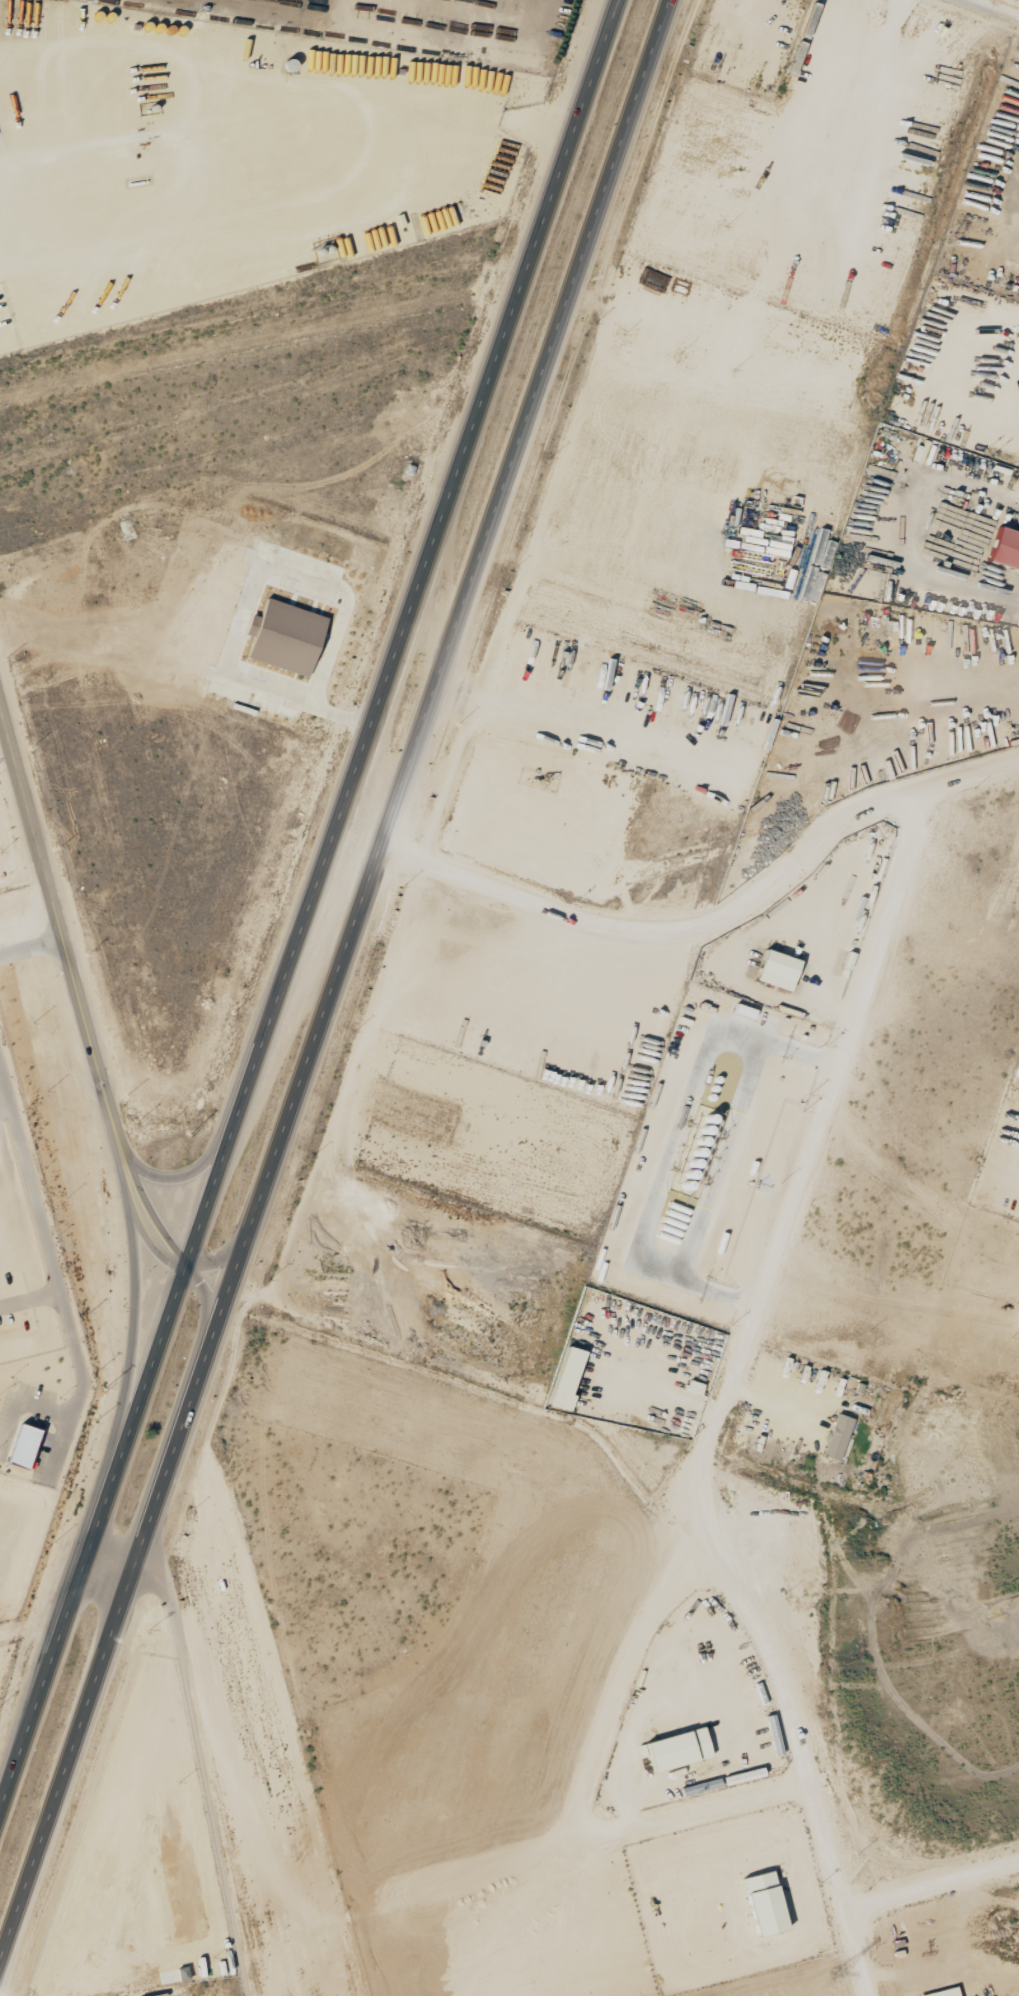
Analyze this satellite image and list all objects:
road: (997, 7)
road: (285, 171)
building: (1007, 550)
road: (403, 635)
building: (287, 637)
petroleum well: (542, 779)
road: (714, 924)
road: (32, 945)
building: (780, 969)
road: (333, 976)
road: (79, 991)
road: (193, 1173)
road: (218, 1261)
road: (55, 1274)
road: (206, 1299)
road: (133, 1333)
building: (569, 1377)
building: (695, 1386)
building: (839, 1436)
road: (707, 1443)
building: (25, 1446)
road: (93, 1544)
road: (111, 1558)
building: (680, 1749)
building: (767, 1903)
road: (863, 1961)
power tower: (835, 1974)
building: (946, 1992)

